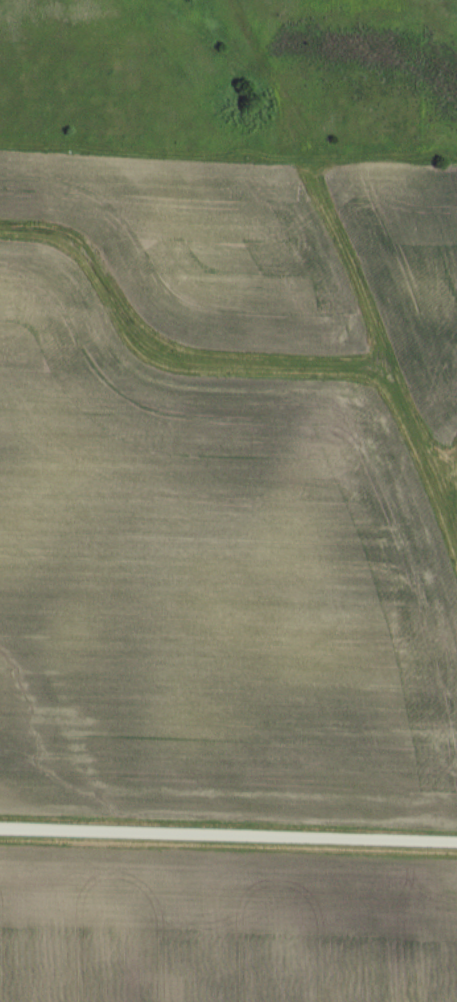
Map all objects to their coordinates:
road: (228, 835)

